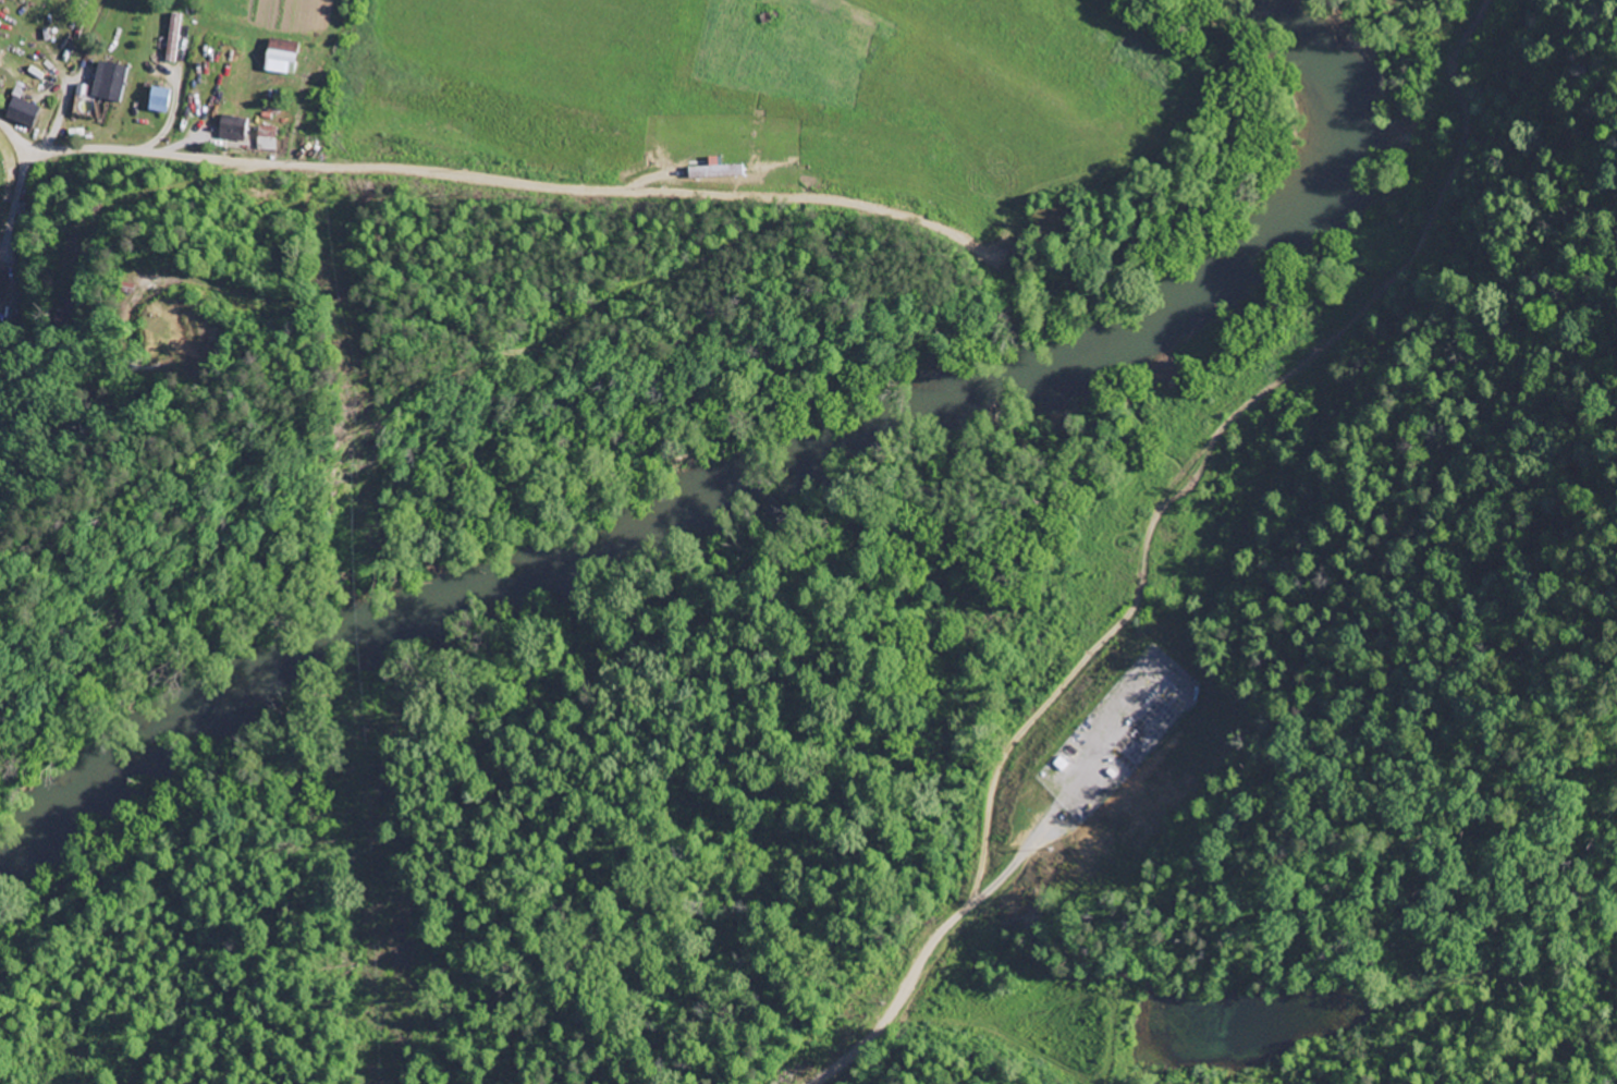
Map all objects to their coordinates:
building: (282, 59)
building: (110, 85)
building: (159, 102)
building: (23, 114)
building: (233, 130)
building: (267, 139)
road: (434, 193)
river: (755, 498)
road: (1099, 619)

